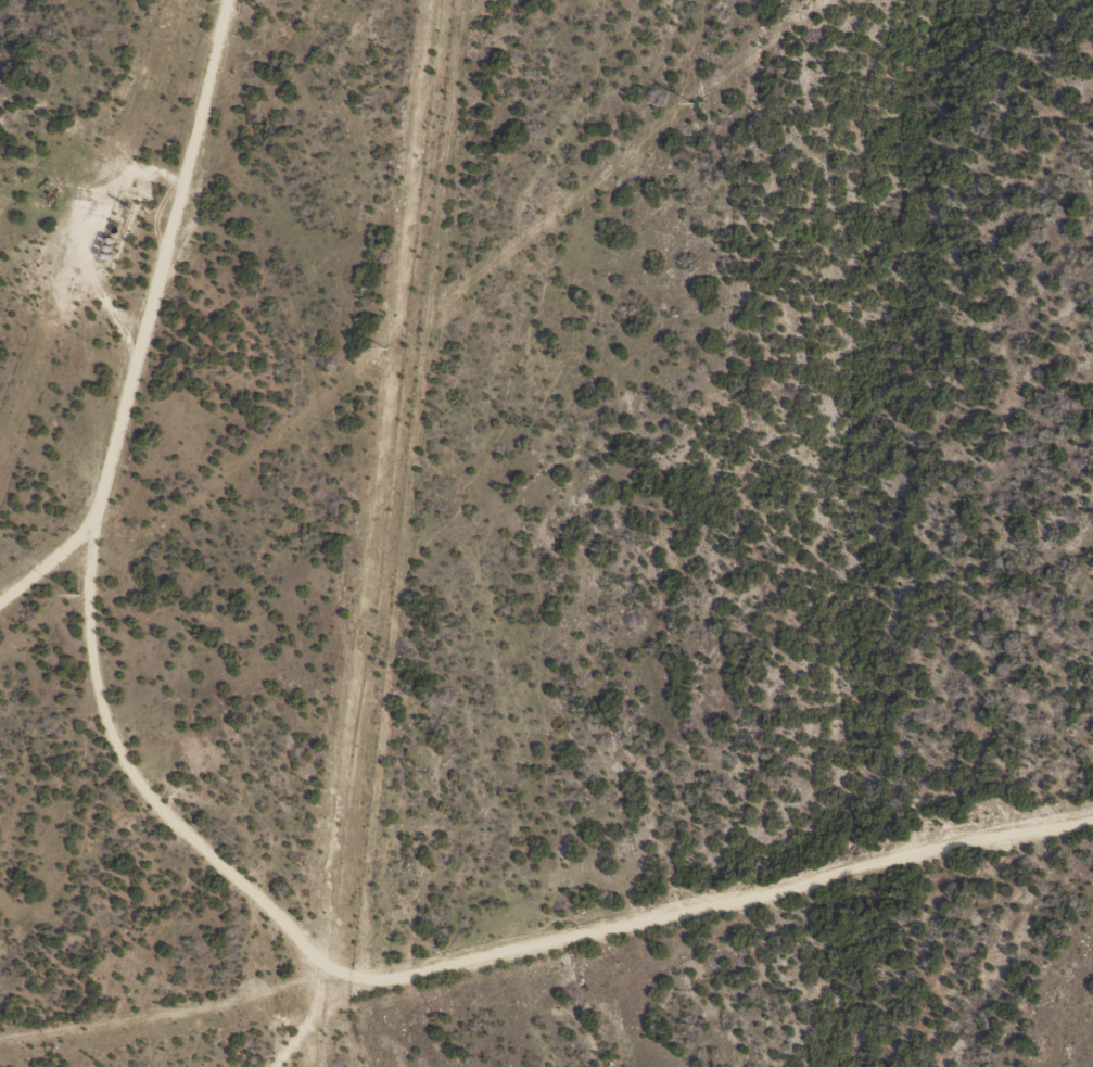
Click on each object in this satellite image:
power tower: (694, 101)
power tower: (386, 348)
road: (103, 577)
power tower: (80, 595)
road: (742, 923)

